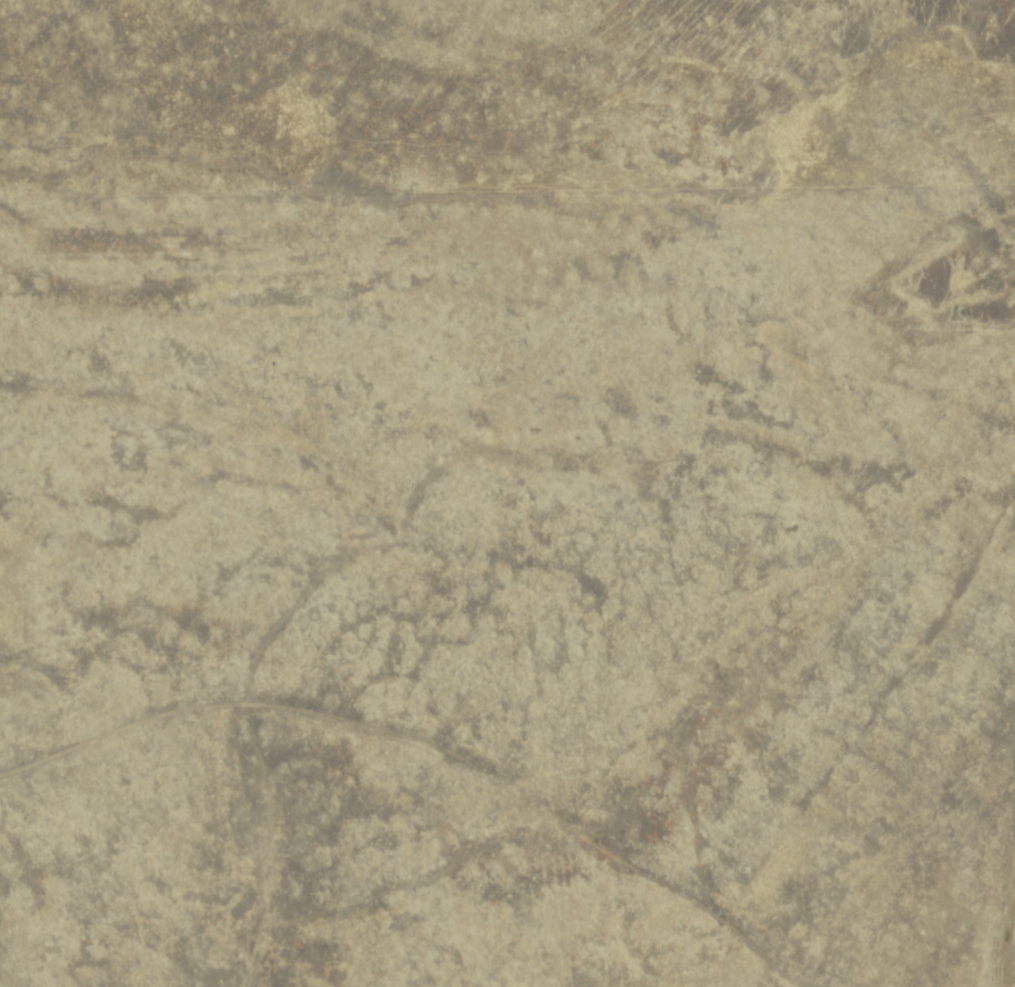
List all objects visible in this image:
road: (416, 784)

